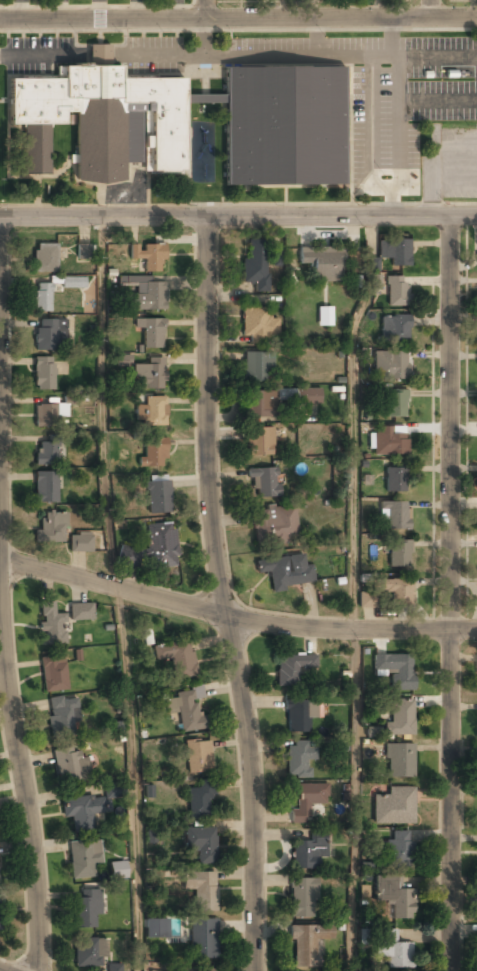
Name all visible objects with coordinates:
road: (426, 8)
road: (204, 9)
road: (238, 18)
building: (282, 117)
road: (398, 117)
road: (238, 216)
building: (86, 251)
building: (394, 252)
building: (148, 257)
building: (276, 257)
building: (44, 259)
building: (321, 263)
building: (255, 266)
building: (72, 283)
building: (396, 292)
building: (149, 296)
building: (42, 298)
building: (324, 316)
building: (258, 326)
building: (394, 329)
building: (150, 333)
building: (50, 335)
building: (123, 359)
building: (390, 365)
building: (258, 368)
building: (44, 374)
building: (150, 374)
building: (309, 396)
building: (395, 403)
building: (258, 404)
building: (150, 411)
building: (46, 417)
road: (353, 420)
building: (388, 441)
building: (259, 442)
building: (45, 453)
building: (153, 453)
building: (396, 480)
building: (264, 482)
building: (45, 487)
building: (158, 497)
building: (394, 515)
building: (275, 525)
building: (51, 528)
building: (80, 543)
building: (161, 545)
building: (398, 555)
building: (286, 571)
building: (396, 591)
road: (450, 593)
road: (116, 594)
road: (222, 594)
building: (366, 599)
building: (81, 612)
road: (237, 613)
building: (51, 625)
building: (177, 657)
building: (292, 669)
building: (395, 670)
building: (53, 673)
building: (187, 711)
building: (299, 715)
building: (63, 716)
building: (400, 718)
road: (19, 753)
building: (199, 757)
building: (298, 759)
building: (399, 761)
building: (70, 766)
building: (113, 790)
road: (354, 799)
building: (307, 801)
building: (199, 802)
building: (394, 806)
building: (83, 811)
building: (201, 844)
building: (396, 849)
building: (309, 851)
building: (82, 860)
building: (118, 869)
building: (201, 890)
building: (394, 896)
building: (303, 898)
building: (87, 908)
building: (156, 928)
building: (203, 939)
building: (308, 944)
building: (393, 949)
building: (89, 952)
building: (113, 968)
building: (198, 969)

